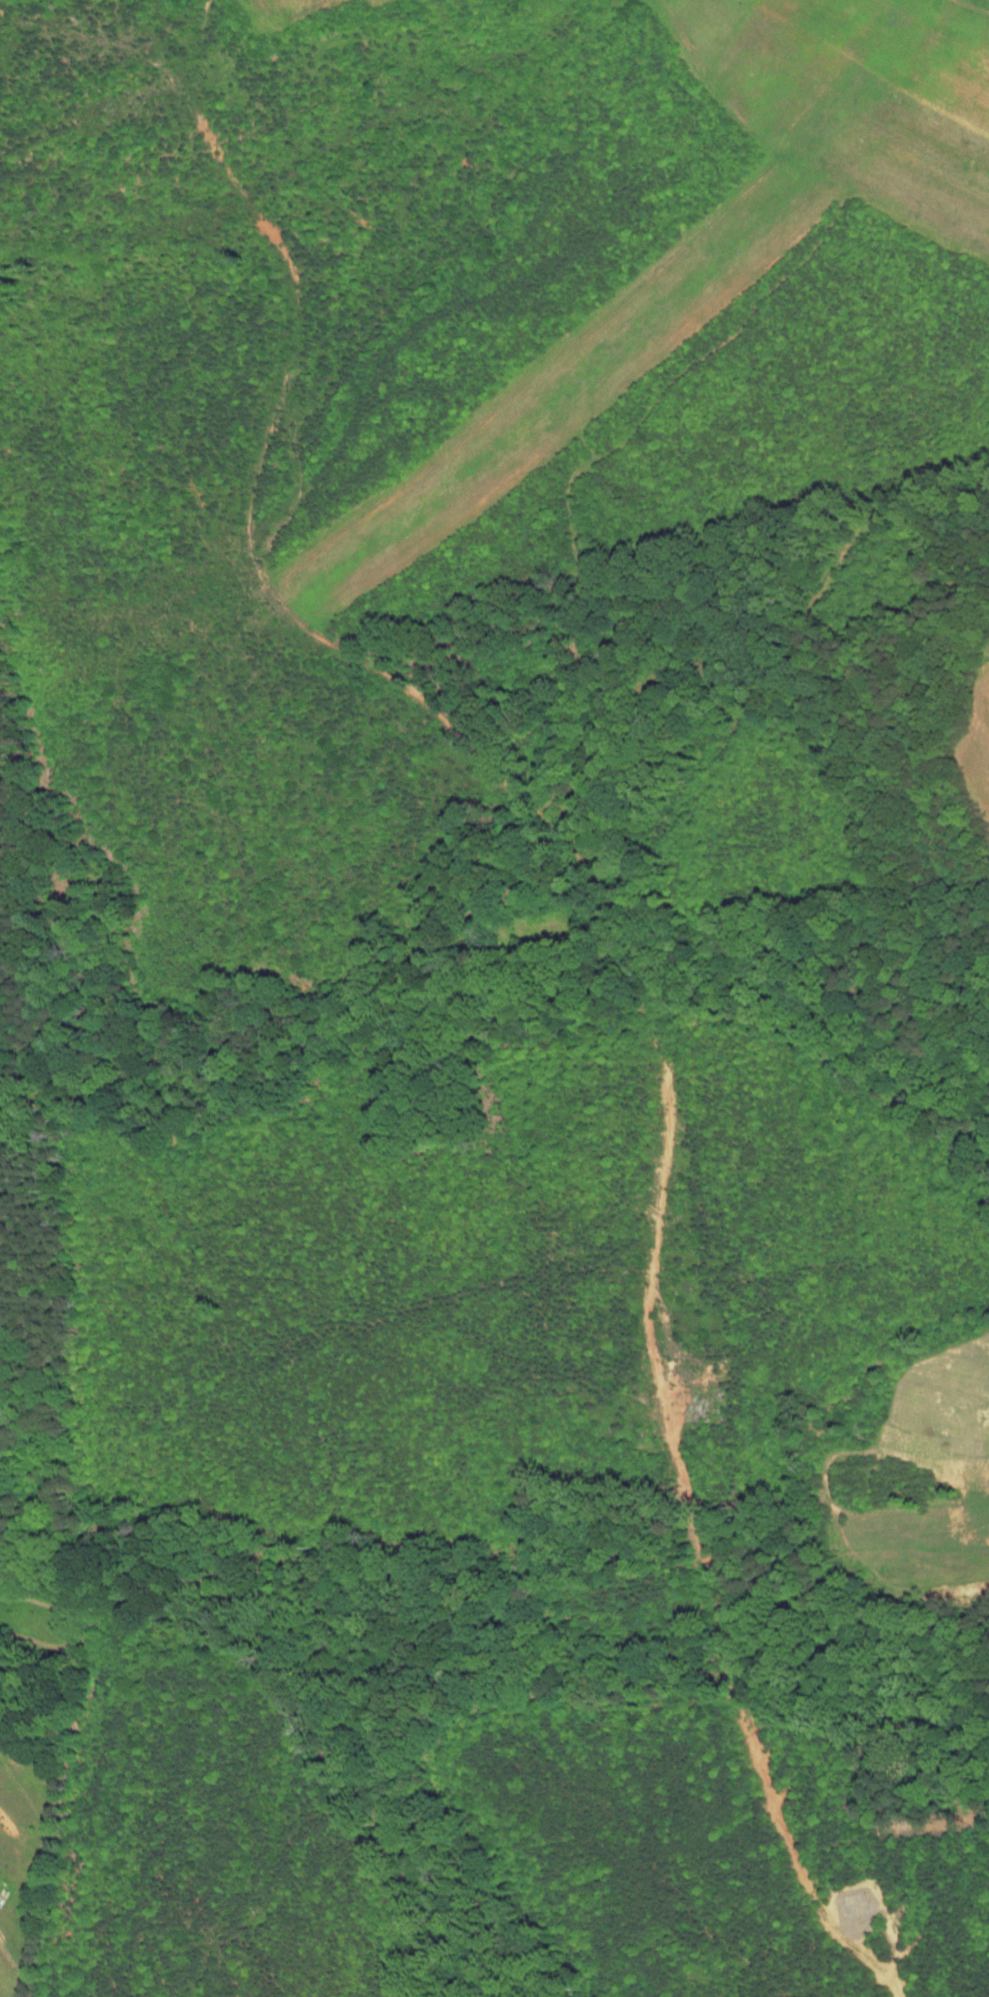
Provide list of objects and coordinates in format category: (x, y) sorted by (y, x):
road: (14, 1970)

